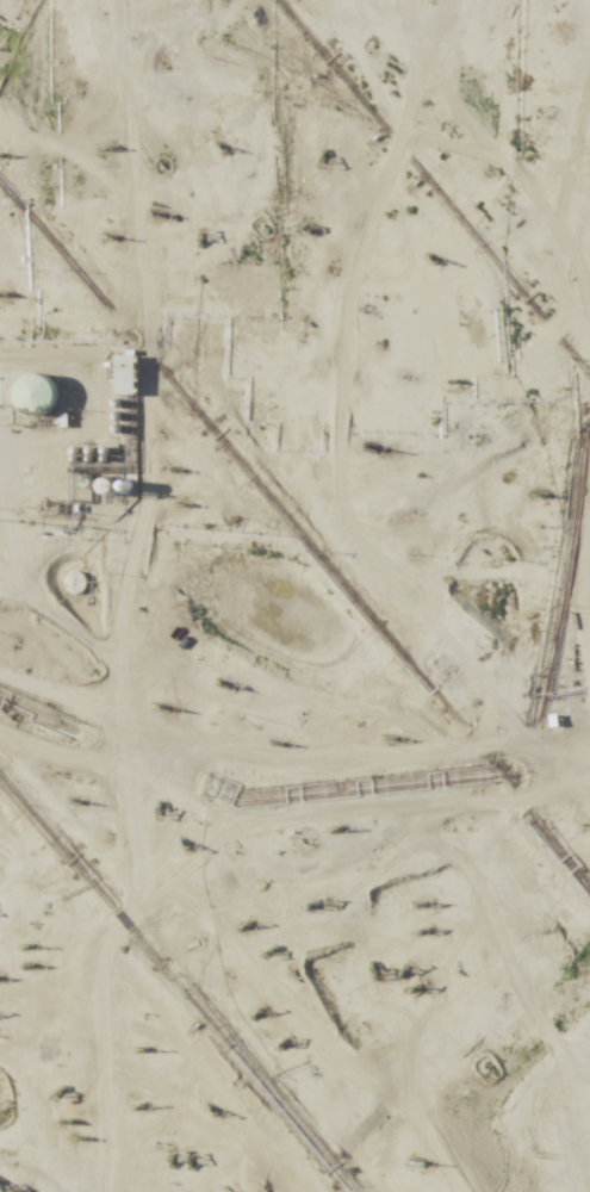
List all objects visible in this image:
road: (563, 25)
road: (294, 333)
building: (36, 391)
road: (278, 850)
road: (261, 915)

